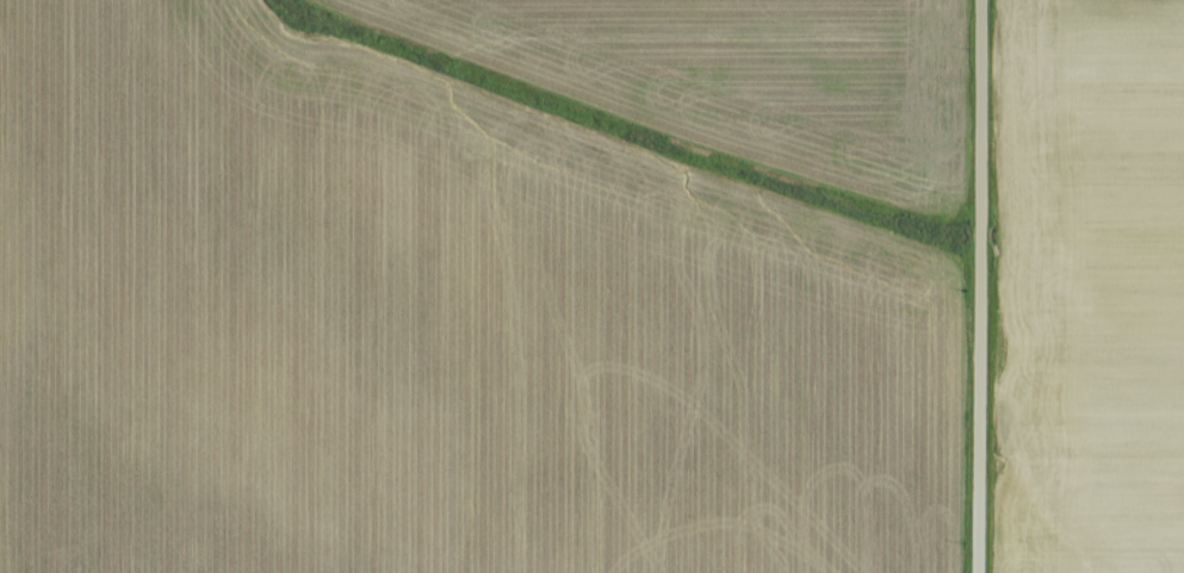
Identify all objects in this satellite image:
road: (967, 286)

